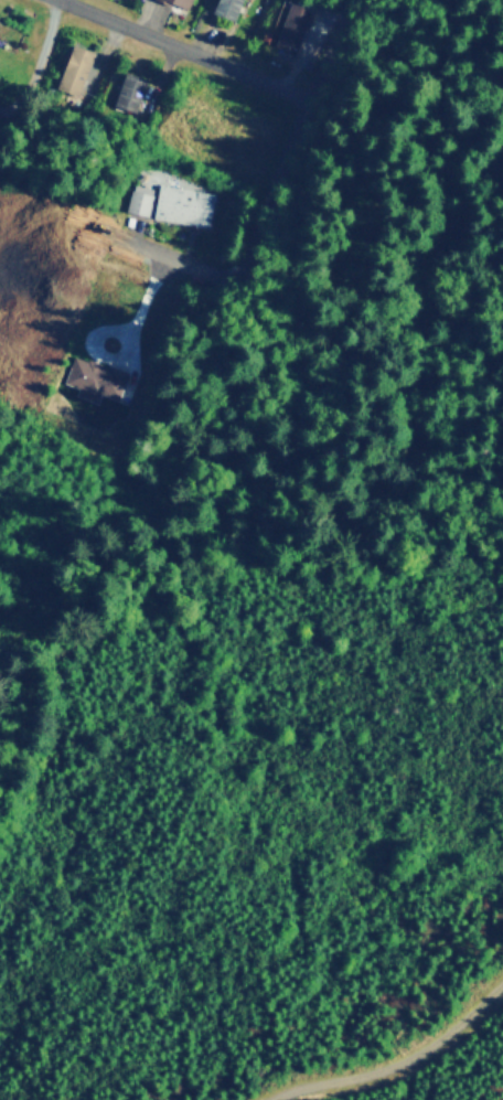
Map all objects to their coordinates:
building: (179, 2)
building: (225, 7)
building: (277, 18)
building: (291, 26)
road: (45, 40)
road: (325, 47)
road: (180, 50)
building: (74, 67)
building: (127, 90)
building: (137, 197)
building: (181, 203)
road: (245, 233)
building: (92, 377)
road: (397, 1065)

